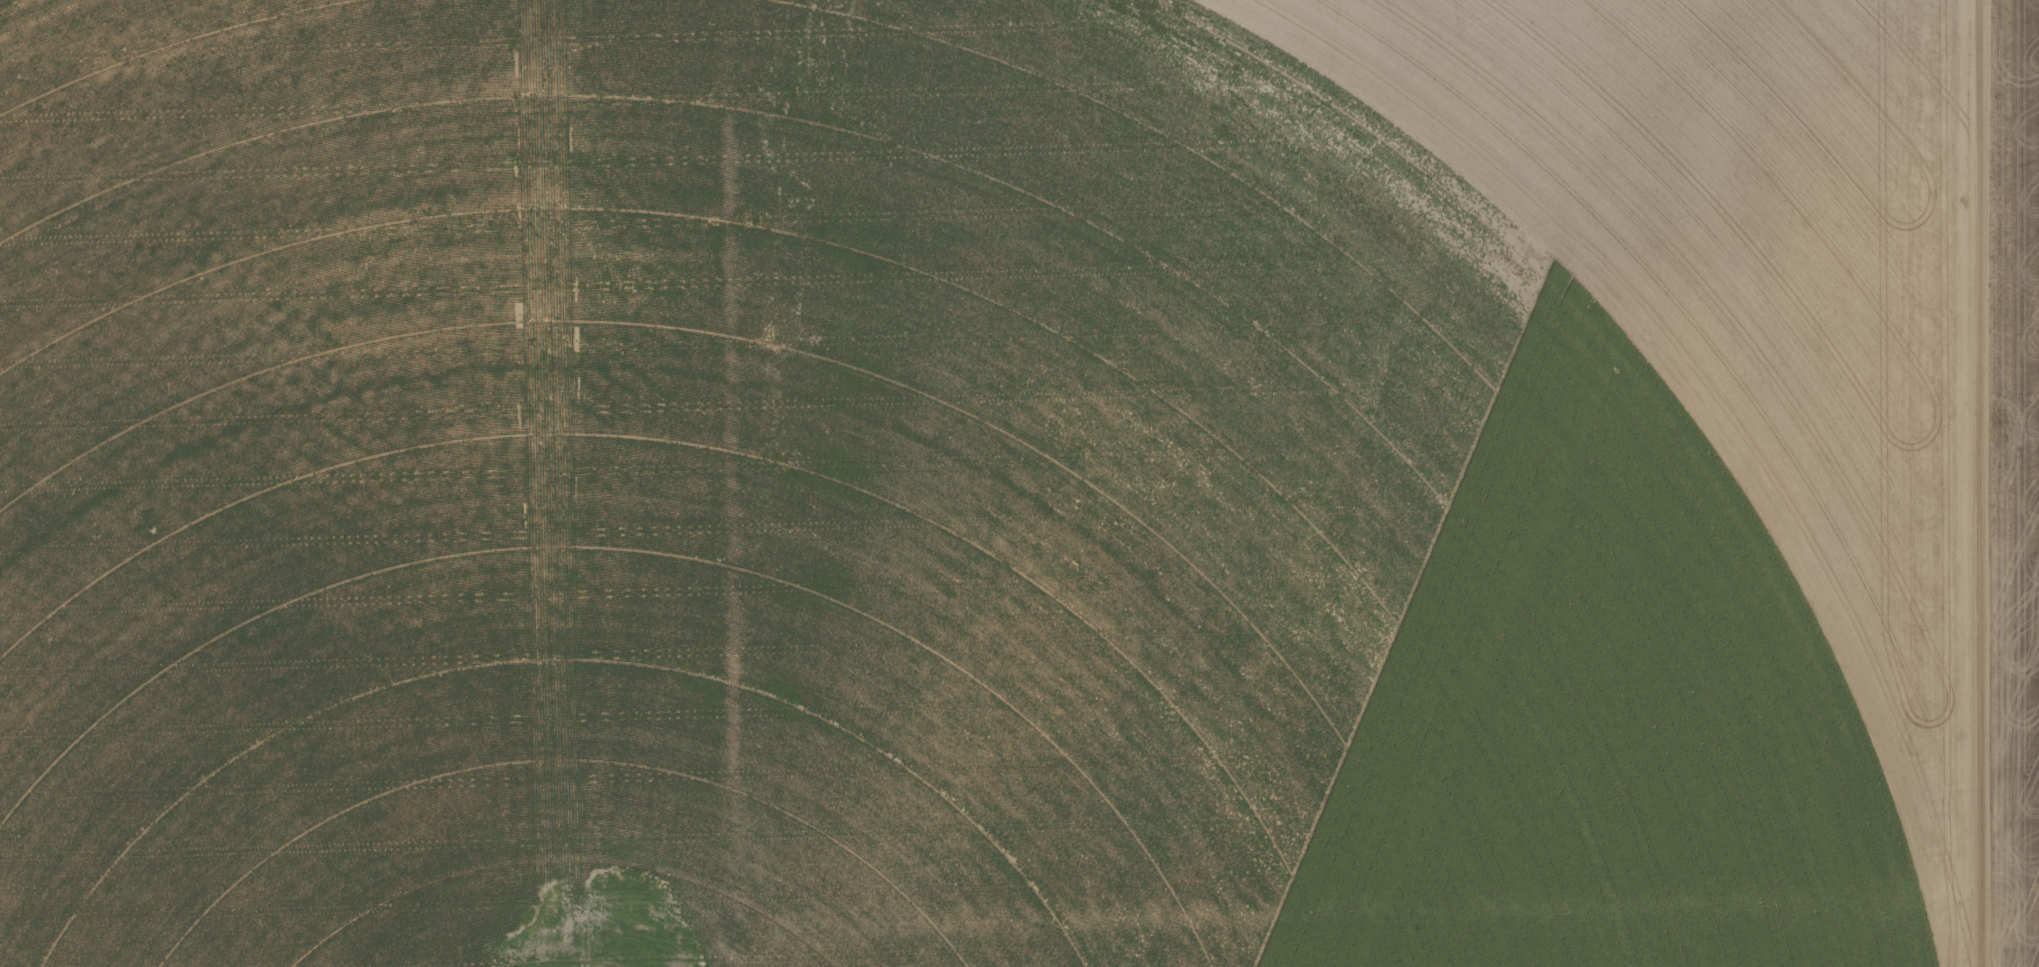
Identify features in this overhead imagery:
road: (1988, 483)

